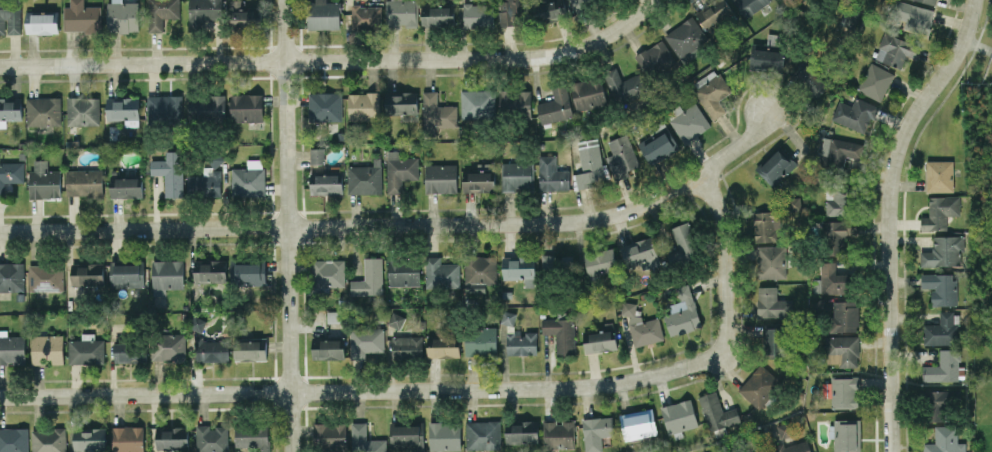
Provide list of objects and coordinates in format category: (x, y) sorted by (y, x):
building: (355, 0)
building: (929, 1)
building: (576, 2)
building: (750, 5)
building: (550, 9)
building: (512, 12)
building: (713, 12)
building: (161, 13)
building: (246, 13)
building: (401, 13)
building: (203, 14)
building: (323, 14)
building: (478, 14)
building: (436, 15)
building: (81, 16)
building: (123, 16)
building: (366, 16)
building: (10, 17)
building: (849, 17)
building: (913, 17)
building: (41, 22)
building: (686, 38)
road: (977, 48)
building: (894, 50)
building: (655, 58)
building: (764, 58)
road: (337, 60)
building: (810, 79)
building: (875, 81)
building: (626, 86)
building: (711, 92)
building: (588, 93)
building: (514, 100)
building: (401, 103)
building: (477, 103)
building: (555, 105)
building: (325, 106)
building: (363, 106)
building: (246, 107)
building: (10, 108)
building: (206, 108)
building: (123, 109)
building: (43, 110)
building: (164, 110)
building: (83, 111)
building: (853, 113)
building: (436, 114)
building: (688, 121)
building: (657, 144)
building: (839, 153)
building: (317, 155)
building: (621, 156)
building: (589, 162)
building: (775, 166)
building: (400, 170)
building: (169, 172)
building: (10, 174)
building: (551, 174)
building: (516, 175)
building: (938, 175)
building: (248, 178)
building: (365, 178)
building: (441, 178)
building: (43, 180)
building: (478, 180)
building: (84, 182)
building: (205, 183)
building: (325, 183)
building: (125, 186)
building: (840, 201)
building: (791, 203)
building: (939, 212)
road: (890, 215)
road: (402, 225)
road: (286, 226)
building: (764, 226)
building: (685, 240)
building: (943, 250)
building: (640, 253)
building: (772, 261)
building: (599, 262)
road: (725, 263)
building: (558, 264)
building: (519, 268)
building: (210, 270)
building: (403, 271)
building: (248, 272)
building: (328, 272)
building: (479, 272)
building: (87, 273)
building: (441, 273)
building: (167, 274)
building: (126, 275)
building: (12, 276)
building: (45, 277)
building: (369, 278)
building: (832, 279)
building: (940, 287)
building: (772, 303)
building: (682, 312)
building: (844, 315)
building: (334, 316)
building: (507, 317)
building: (394, 319)
building: (198, 323)
building: (641, 325)
building: (941, 329)
building: (560, 333)
building: (480, 340)
building: (365, 341)
building: (600, 341)
building: (774, 341)
building: (521, 343)
building: (407, 346)
building: (47, 347)
building: (444, 347)
building: (11, 348)
building: (161, 348)
building: (250, 348)
building: (328, 348)
building: (85, 349)
building: (211, 350)
building: (842, 350)
building: (122, 352)
building: (943, 367)
building: (759, 386)
road: (366, 391)
building: (844, 392)
building: (939, 405)
building: (717, 411)
building: (678, 416)
building: (637, 424)
building: (784, 429)
building: (521, 431)
building: (595, 432)
building: (558, 433)
building: (329, 434)
building: (483, 434)
building: (444, 435)
building: (846, 435)
building: (252, 436)
building: (406, 436)
building: (172, 437)
building: (89, 438)
building: (211, 438)
building: (14, 439)
building: (48, 439)
building: (127, 439)
building: (365, 439)
building: (944, 440)
building: (793, 447)

